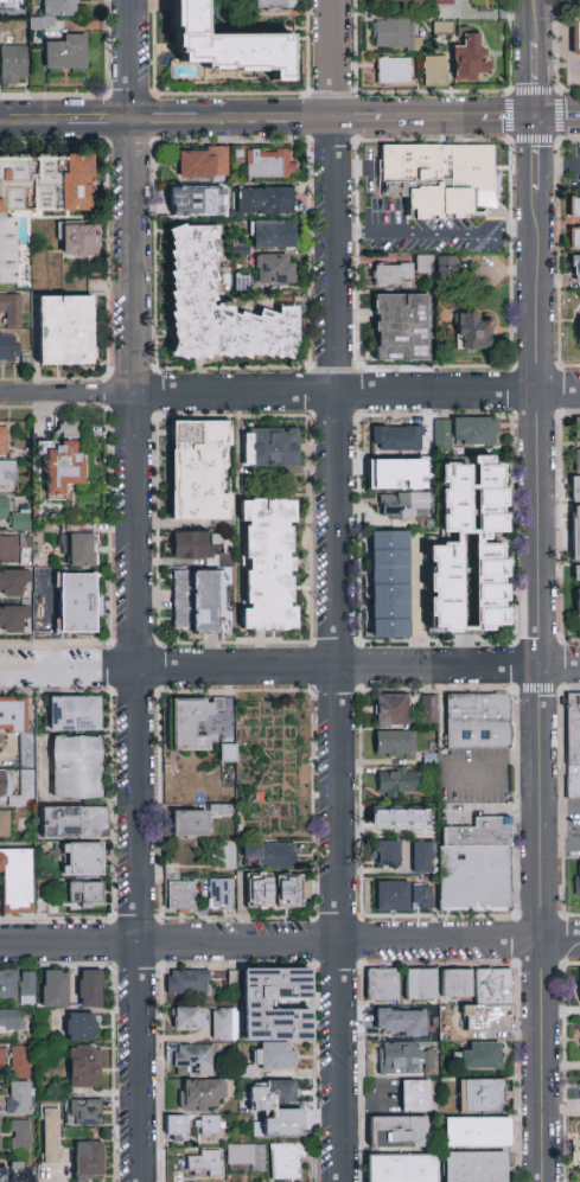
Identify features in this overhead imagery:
building: (397, 2)
building: (445, 2)
building: (274, 4)
building: (7, 5)
building: (444, 11)
building: (55, 12)
building: (576, 30)
building: (442, 32)
building: (394, 36)
building: (224, 44)
road: (561, 47)
building: (472, 50)
building: (65, 52)
building: (12, 63)
building: (393, 70)
building: (434, 71)
road: (231, 115)
road: (299, 115)
road: (357, 115)
road: (429, 115)
road: (33, 116)
road: (101, 116)
road: (166, 116)
road: (506, 116)
road: (557, 116)
road: (509, 140)
building: (203, 162)
building: (269, 164)
road: (575, 165)
road: (355, 166)
building: (444, 174)
building: (39, 196)
building: (195, 200)
building: (266, 200)
building: (574, 207)
road: (434, 231)
building: (273, 235)
building: (573, 238)
building: (79, 241)
building: (446, 263)
building: (423, 264)
building: (575, 267)
building: (274, 269)
building: (391, 275)
building: (217, 307)
building: (11, 309)
building: (466, 326)
building: (400, 327)
building: (578, 328)
building: (65, 332)
building: (8, 349)
road: (557, 390)
road: (267, 392)
building: (576, 428)
building: (465, 435)
building: (2, 440)
building: (395, 441)
building: (269, 447)
building: (576, 459)
building: (62, 464)
building: (198, 471)
building: (7, 475)
building: (399, 487)
building: (579, 515)
building: (14, 516)
building: (82, 545)
building: (192, 547)
building: (8, 549)
building: (469, 552)
building: (267, 563)
building: (13, 581)
building: (388, 584)
building: (578, 589)
road: (135, 590)
road: (336, 590)
road: (536, 590)
building: (196, 601)
building: (76, 603)
building: (13, 619)
road: (53, 620)
road: (557, 665)
road: (267, 667)
building: (428, 709)
building: (391, 710)
building: (74, 714)
building: (191, 722)
building: (477, 722)
building: (17, 723)
building: (574, 729)
building: (394, 743)
building: (228, 754)
road: (491, 766)
building: (76, 767)
building: (397, 780)
building: (5, 785)
building: (572, 785)
building: (27, 787)
road: (559, 811)
building: (397, 817)
building: (5, 822)
building: (72, 822)
building: (195, 822)
building: (482, 832)
road: (559, 848)
building: (270, 854)
building: (385, 854)
building: (224, 855)
building: (421, 857)
building: (82, 858)
building: (476, 878)
building: (576, 880)
building: (17, 881)
building: (260, 892)
building: (287, 892)
building: (84, 894)
building: (219, 894)
building: (391, 895)
building: (421, 895)
building: (179, 896)
road: (560, 939)
road: (269, 940)
building: (187, 982)
building: (455, 983)
building: (381, 985)
building: (420, 985)
building: (17, 986)
building: (495, 986)
building: (89, 988)
building: (53, 989)
building: (256, 1004)
building: (12, 1018)
building: (186, 1018)
building: (492, 1020)
building: (399, 1022)
building: (223, 1024)
building: (81, 1027)
building: (480, 1055)
building: (273, 1056)
building: (399, 1058)
building: (1, 1059)
building: (20, 1060)
building: (192, 1060)
building: (84, 1067)
building: (275, 1091)
building: (198, 1094)
building: (415, 1095)
building: (479, 1095)
building: (17, 1099)
road: (372, 1108)
building: (84, 1112)
building: (208, 1125)
building: (176, 1126)
building: (396, 1131)
building: (476, 1131)
building: (0, 1133)
building: (21, 1135)
building: (50, 1136)
building: (209, 1137)
building: (246, 1157)
building: (88, 1161)
building: (285, 1162)
building: (177, 1163)
building: (203, 1163)
building: (474, 1167)
building: (401, 1168)
building: (2, 1171)
building: (21, 1173)

